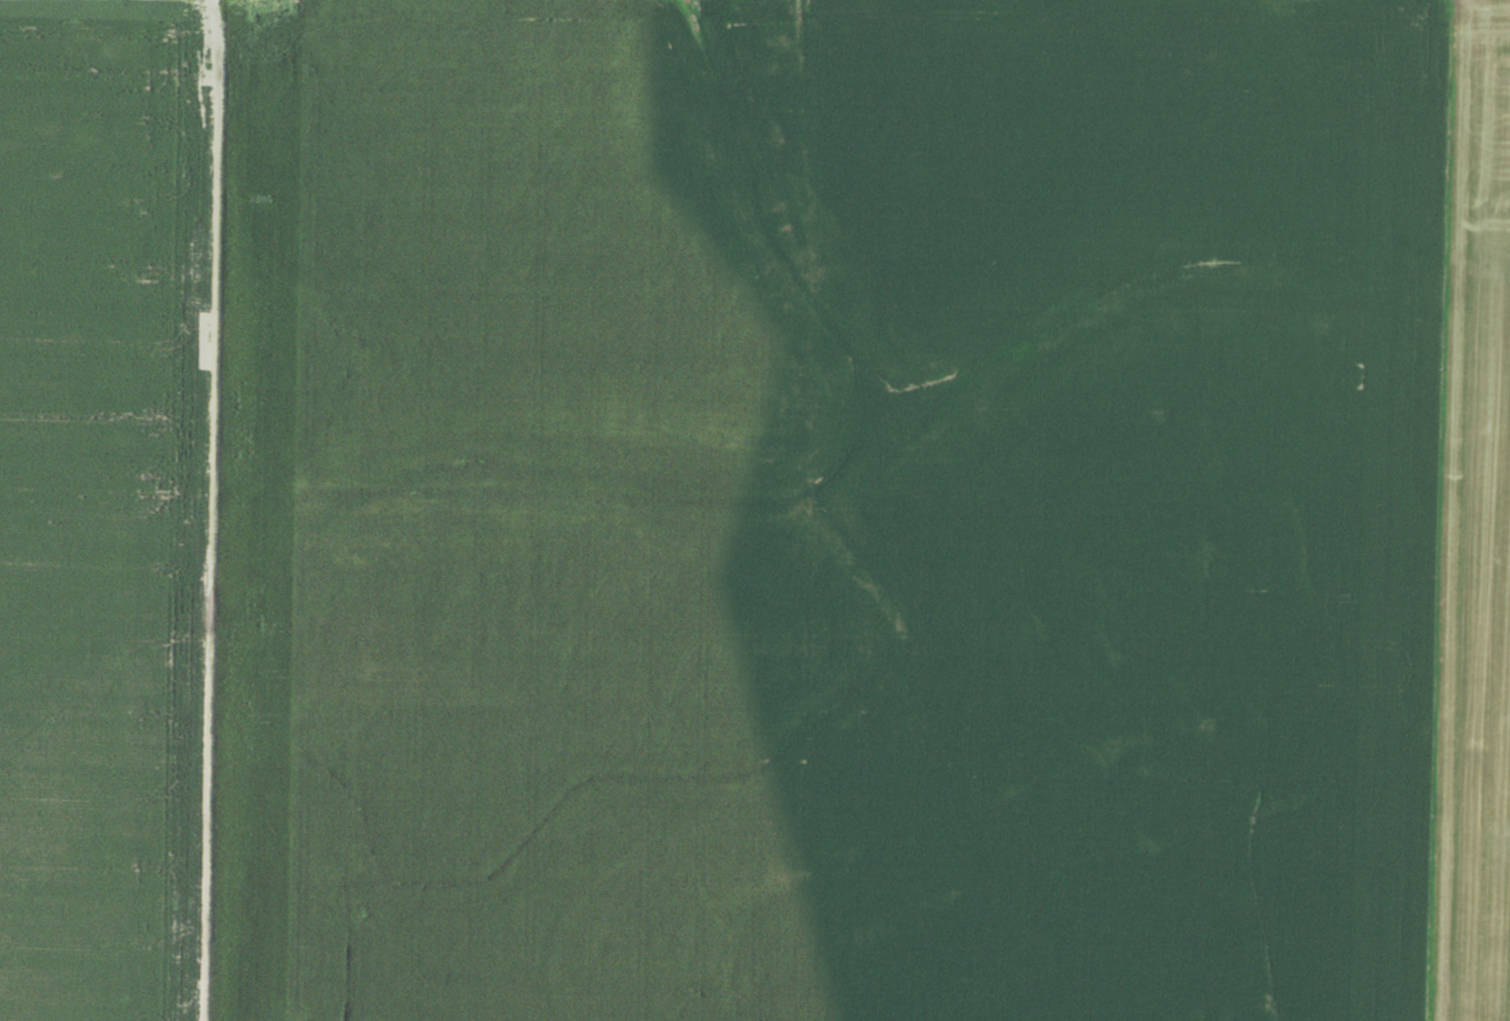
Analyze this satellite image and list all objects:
road: (1468, 0)

